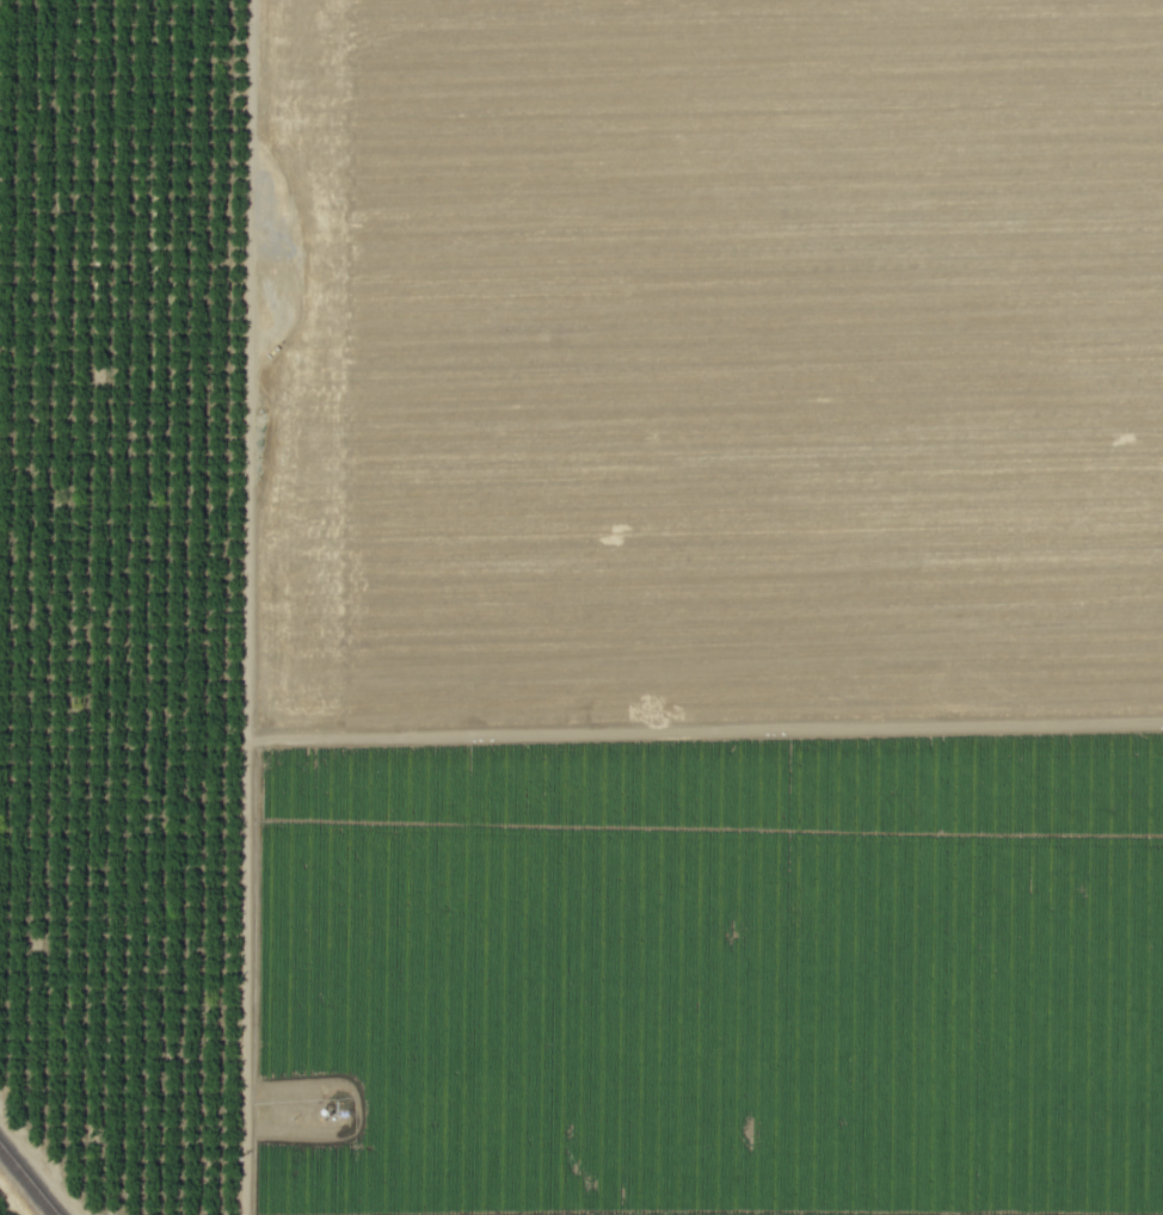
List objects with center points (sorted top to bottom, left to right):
railway: (27, 1180)

